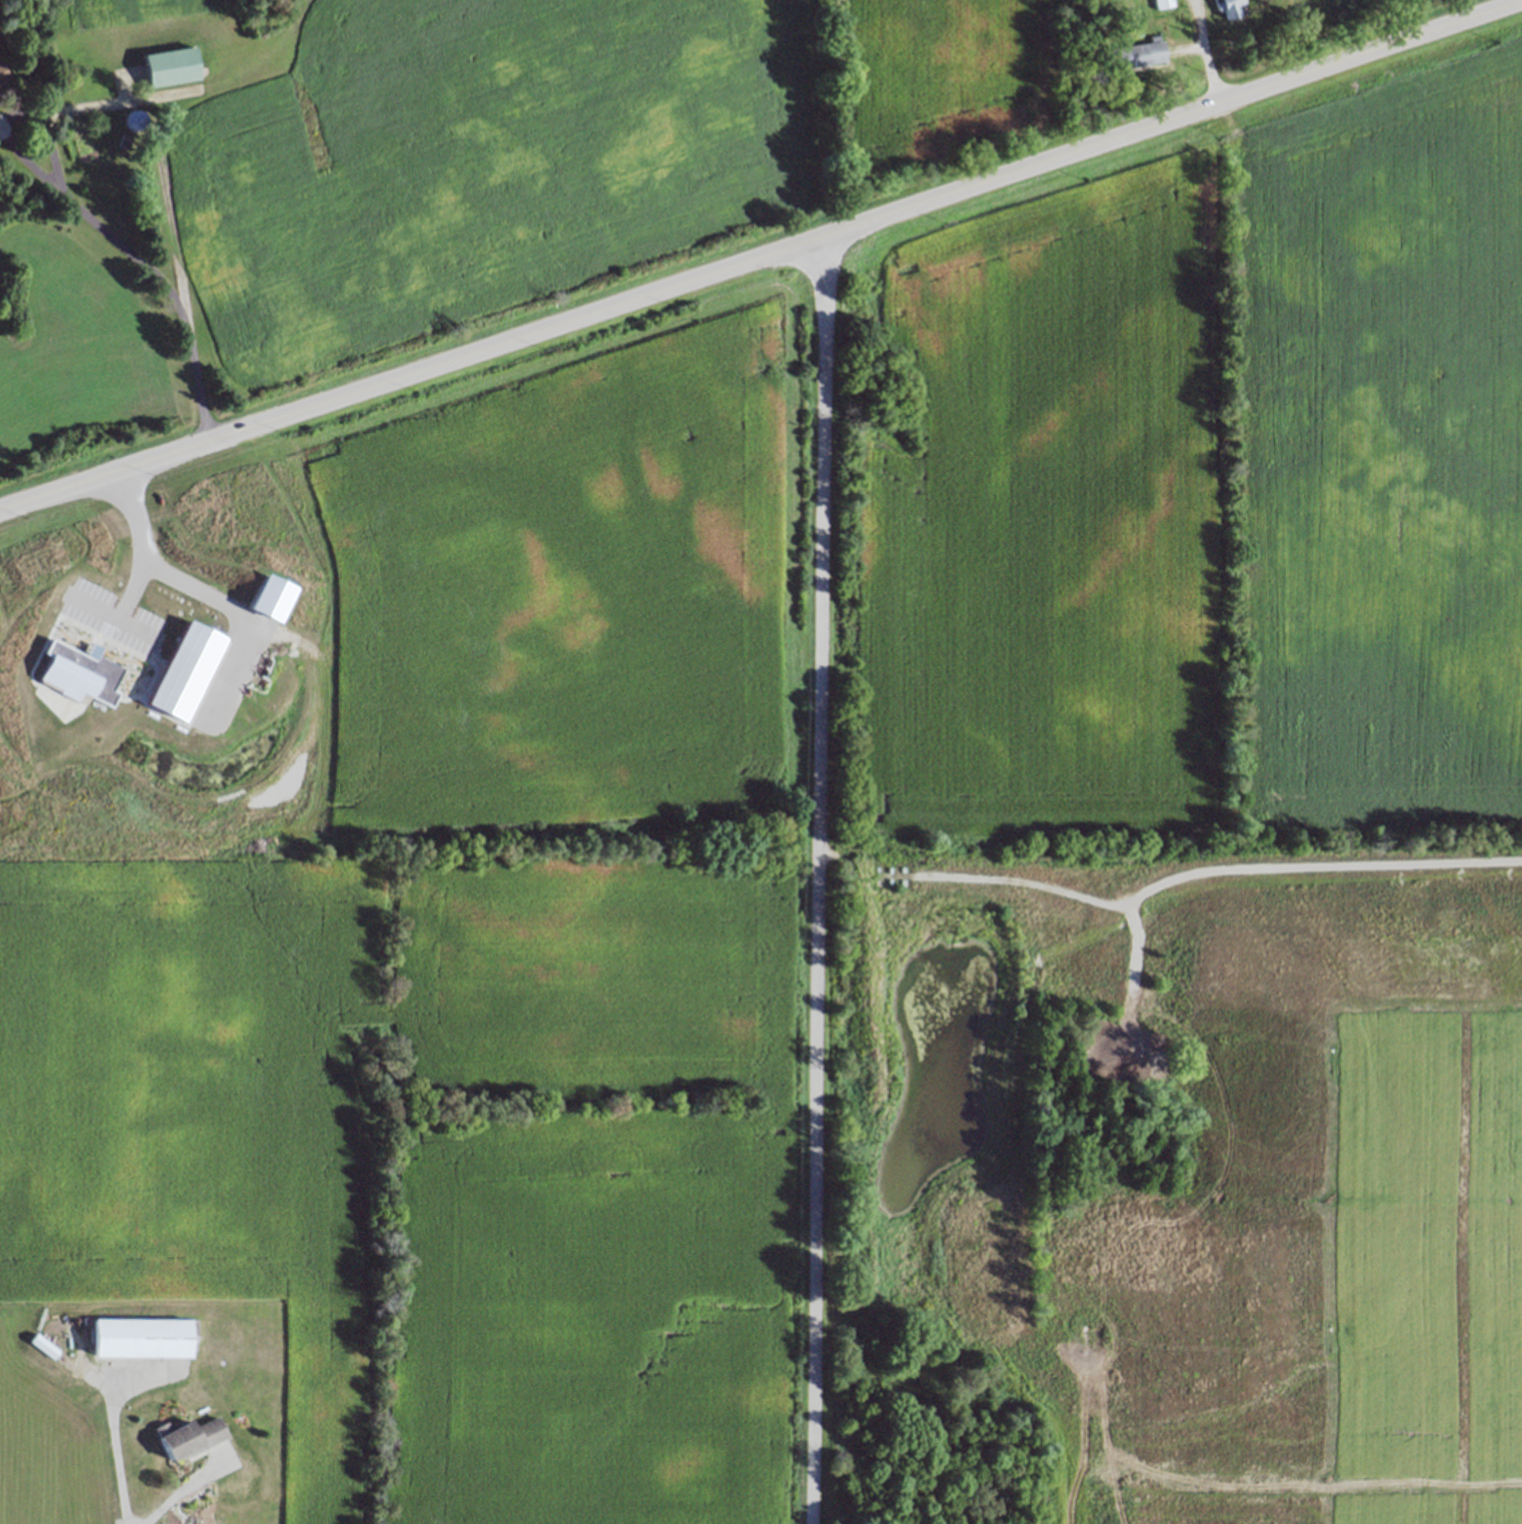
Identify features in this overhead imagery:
crop: (1383, 2)
building: (1160, 3)
building: (1230, 7)
crop: (92, 12)
road: (1202, 51)
building: (1132, 52)
road: (1182, 64)
building: (171, 65)
building: (2, 73)
building: (134, 123)
building: (124, 140)
crop: (544, 146)
road: (100, 231)
road: (759, 259)
crop: (1193, 481)
road: (140, 542)
building: (267, 597)
parking lot: (109, 615)
road: (244, 618)
park: (156, 664)
building: (183, 671)
building: (72, 681)
building: (27, 698)
building: (33, 815)
road: (819, 881)
building: (1092, 965)
building: (1109, 1035)
building: (141, 1336)
building: (192, 1437)
road: (125, 1461)
road: (199, 1500)

